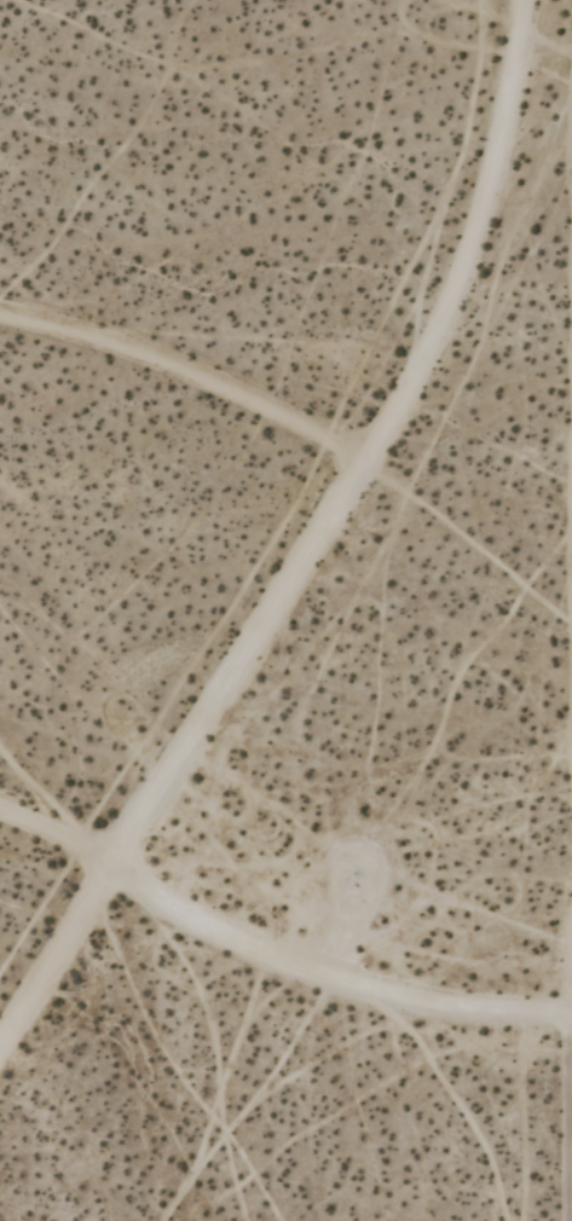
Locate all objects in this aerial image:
road: (370, 455)
crop: (417, 671)
road: (50, 833)
road: (347, 924)
road: (58, 960)
road: (318, 978)
road: (568, 1018)
road: (567, 1119)

